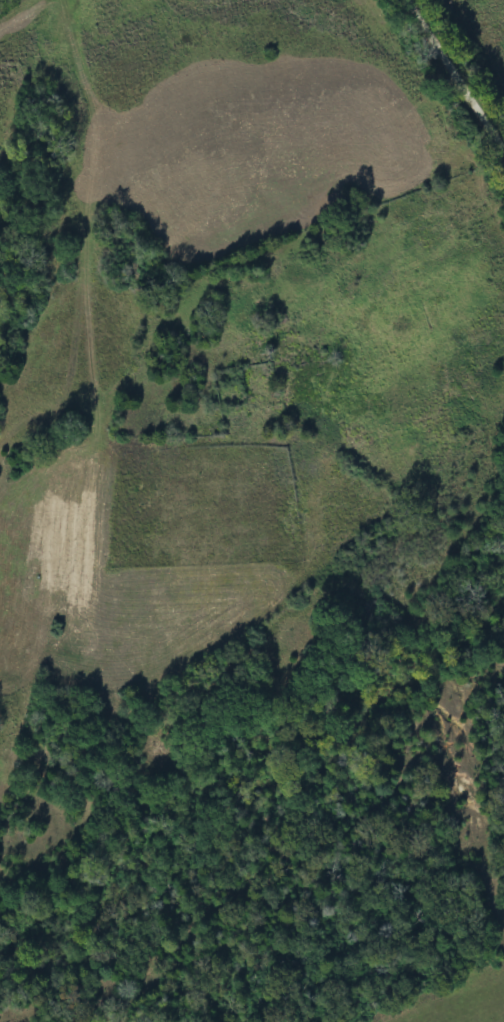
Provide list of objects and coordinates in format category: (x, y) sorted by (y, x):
road: (454, 71)

